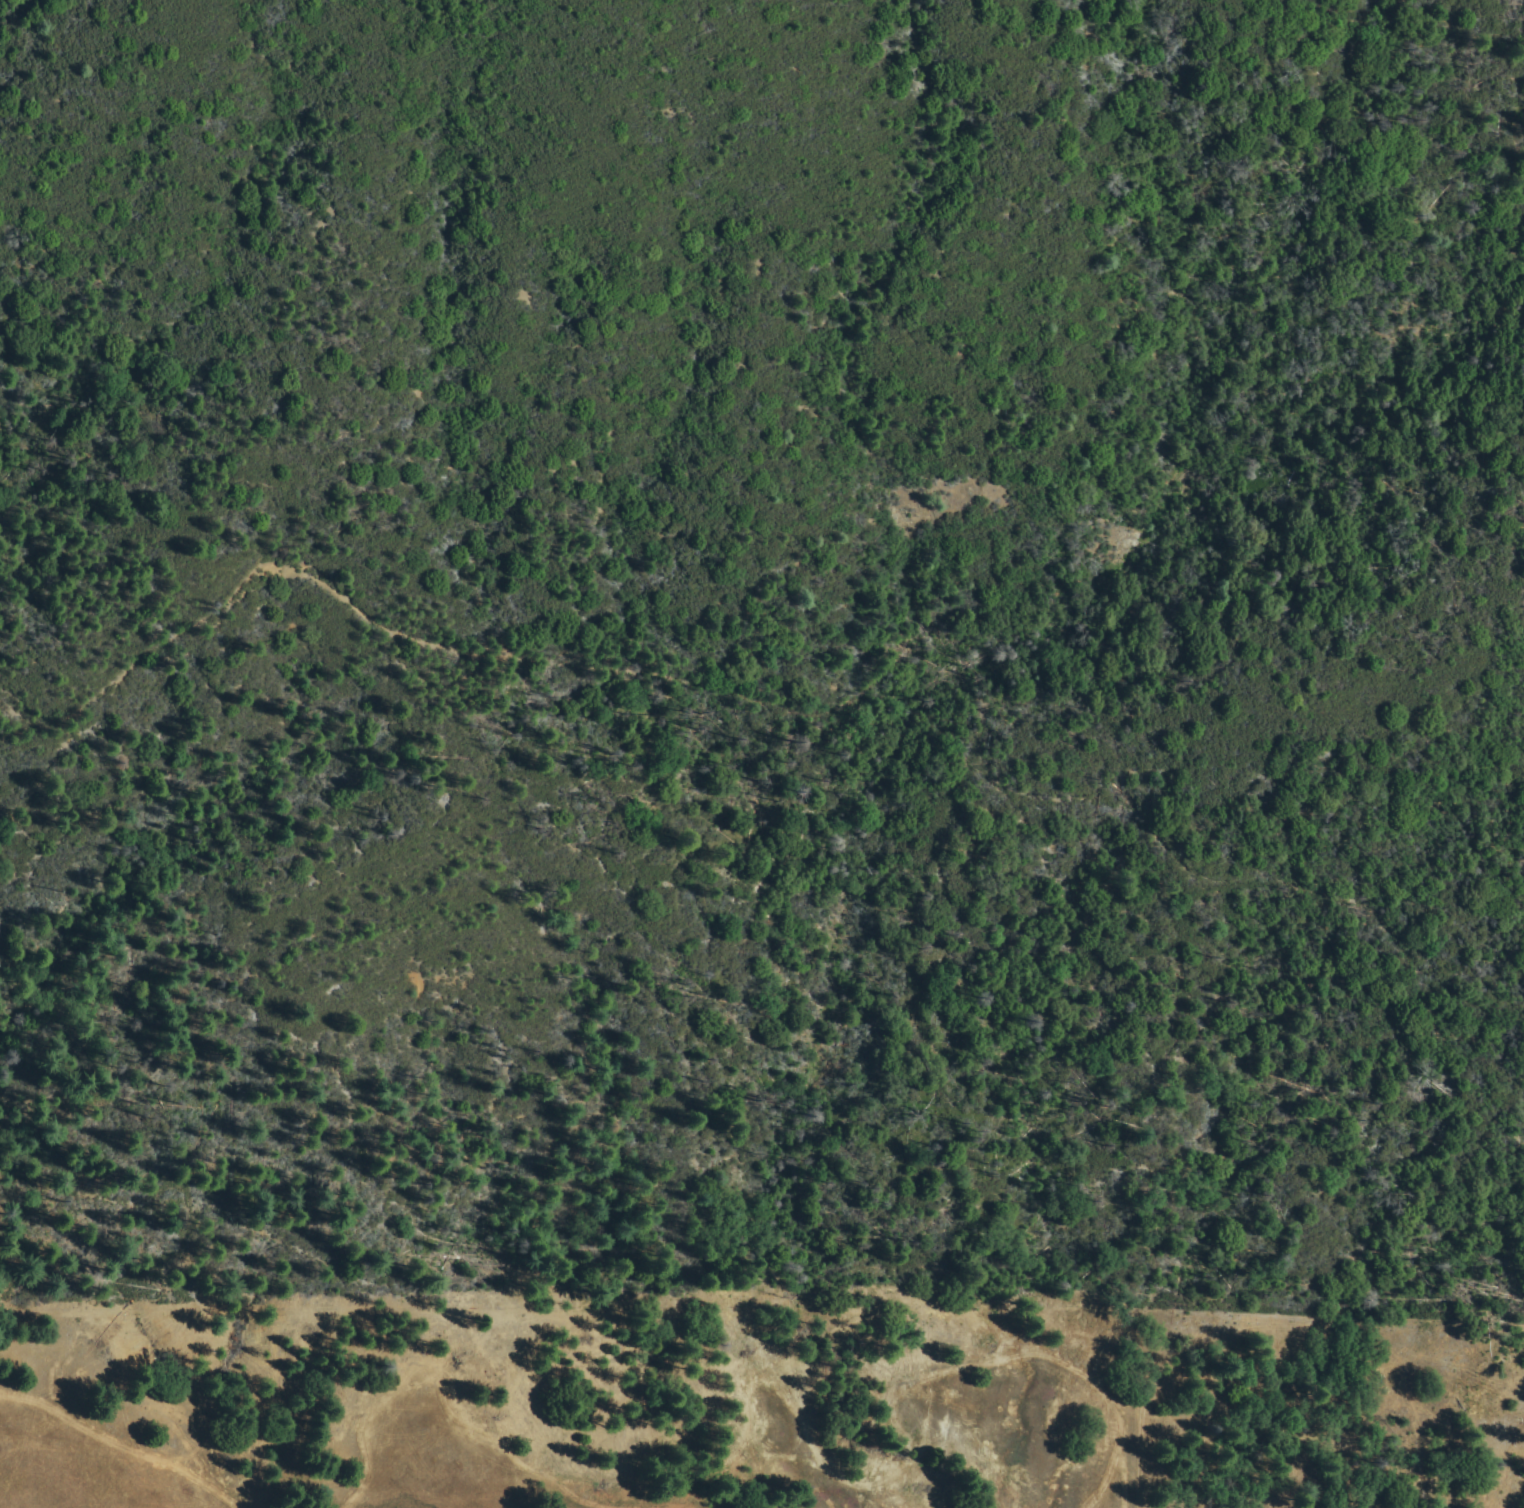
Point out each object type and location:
road: (944, 628)

